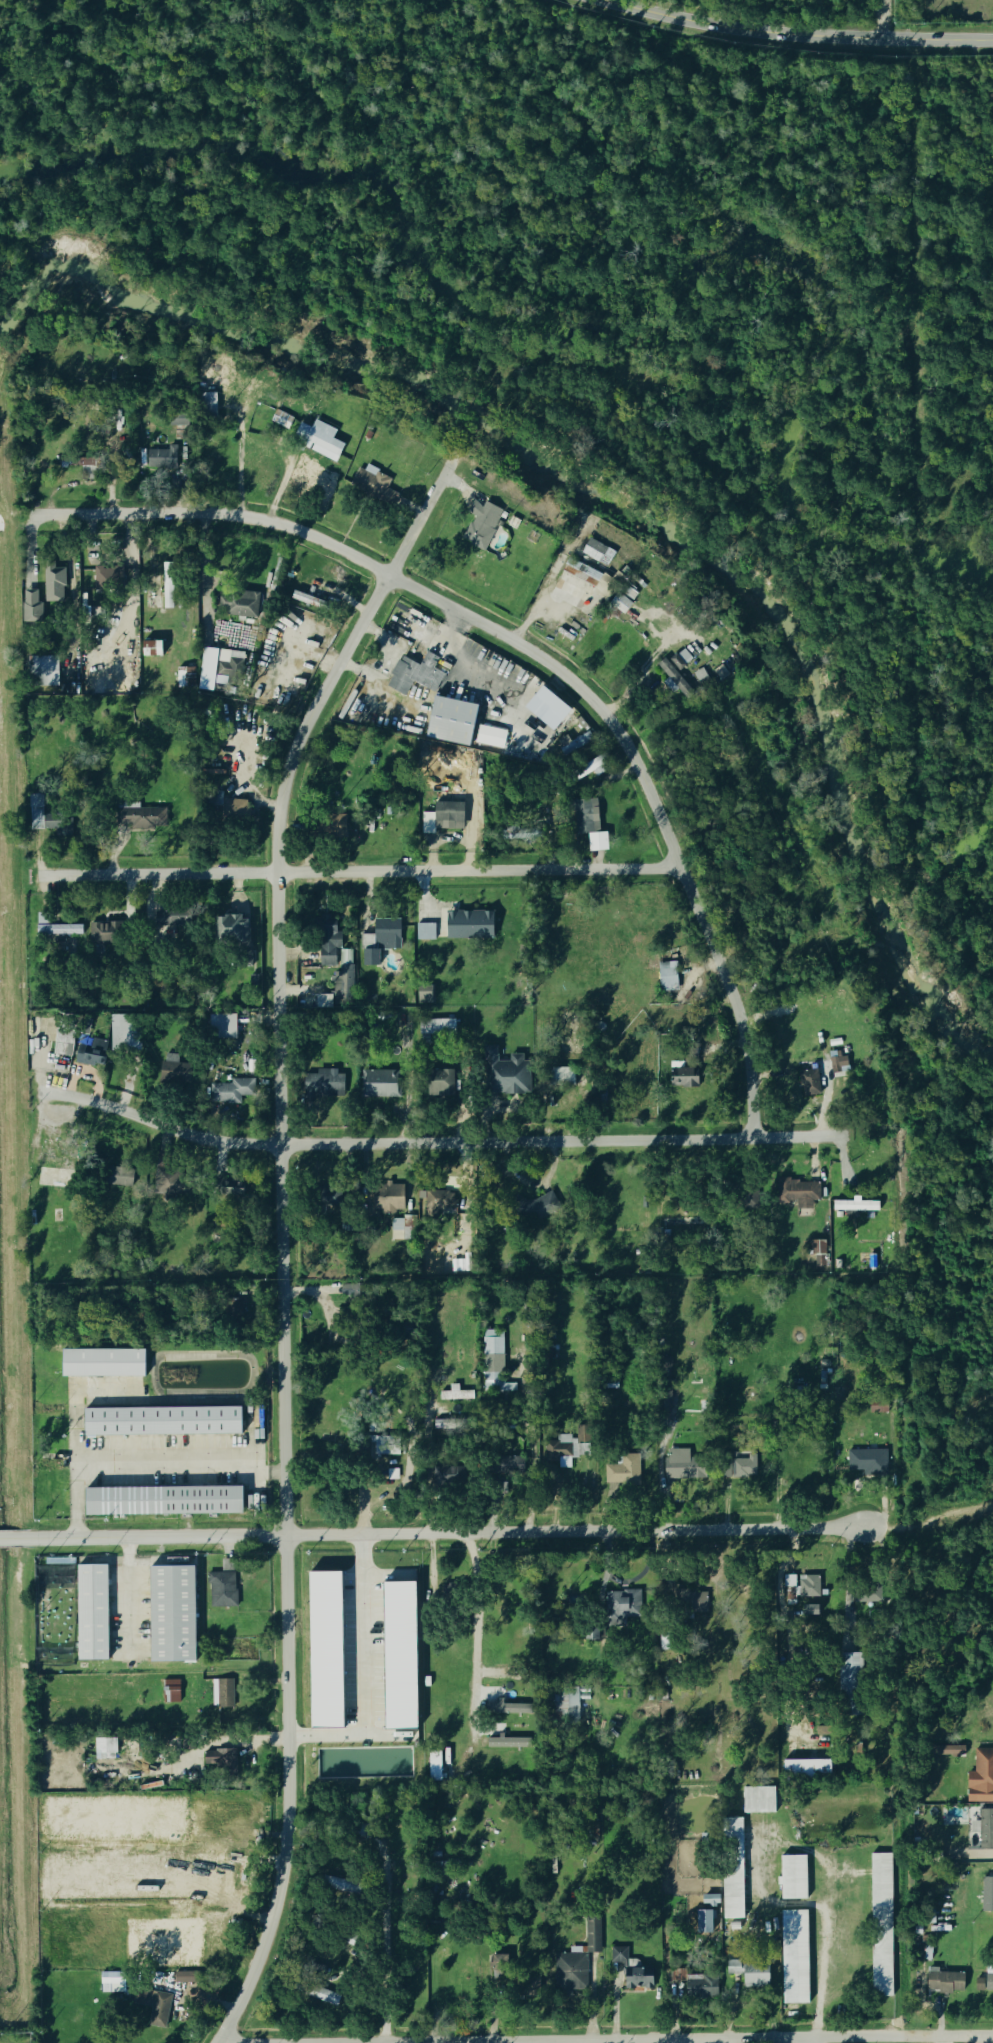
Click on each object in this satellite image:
road: (796, 34)
building: (176, 419)
building: (279, 419)
building: (316, 438)
building: (160, 458)
road: (241, 463)
building: (87, 465)
building: (373, 485)
river: (622, 504)
building: (479, 529)
building: (595, 552)
building: (579, 572)
building: (106, 575)
building: (52, 584)
building: (601, 584)
building: (627, 593)
building: (165, 595)
building: (305, 600)
building: (618, 603)
building: (237, 604)
building: (29, 608)
building: (147, 648)
road: (539, 656)
building: (216, 666)
building: (40, 671)
building: (678, 674)
building: (413, 675)
building: (183, 678)
building: (448, 721)
building: (490, 735)
building: (582, 772)
building: (225, 805)
building: (33, 812)
building: (140, 817)
building: (584, 817)
building: (332, 825)
road: (358, 871)
building: (466, 925)
building: (225, 928)
building: (56, 929)
building: (424, 932)
building: (101, 934)
building: (378, 941)
building: (327, 949)
building: (666, 977)
building: (341, 978)
building: (423, 995)
building: (434, 1028)
building: (122, 1034)
building: (61, 1044)
building: (89, 1054)
building: (835, 1065)
building: (168, 1070)
building: (681, 1075)
building: (558, 1077)
building: (438, 1083)
building: (806, 1083)
building: (323, 1085)
building: (378, 1085)
building: (235, 1091)
road: (439, 1142)
building: (119, 1178)
building: (167, 1184)
building: (798, 1194)
building: (388, 1199)
building: (436, 1204)
building: (852, 1206)
building: (535, 1207)
building: (405, 1227)
road: (281, 1232)
building: (814, 1248)
building: (103, 1361)
building: (492, 1363)
building: (453, 1395)
building: (163, 1421)
road: (429, 1456)
building: (866, 1462)
building: (511, 1465)
road: (143, 1466)
building: (678, 1466)
building: (622, 1472)
building: (160, 1502)
road: (432, 1534)
building: (801, 1586)
building: (221, 1590)
road: (126, 1594)
building: (690, 1605)
building: (619, 1608)
building: (90, 1614)
building: (170, 1615)
road: (472, 1638)
building: (326, 1650)
building: (401, 1656)
road: (364, 1670)
building: (847, 1671)
building: (169, 1692)
building: (226, 1693)
building: (564, 1708)
building: (505, 1710)
building: (507, 1743)
building: (950, 1751)
building: (215, 1758)
building: (435, 1766)
building: (807, 1768)
building: (980, 1778)
building: (759, 1800)
building: (218, 1817)
building: (986, 1829)
road: (820, 1858)
building: (733, 1868)
building: (201, 1871)
building: (793, 1876)
building: (335, 1884)
building: (166, 1892)
building: (987, 1894)
building: (707, 1900)
building: (881, 1923)
building: (594, 1934)
building: (198, 1937)
road: (383, 1940)
building: (795, 1957)
building: (628, 1971)
building: (749, 1973)
building: (678, 1974)
building: (187, 1976)
building: (943, 1982)
building: (987, 1983)
building: (322, 1996)
building: (155, 2018)
road: (604, 2038)
road: (811, 2040)
road: (569, 2041)

